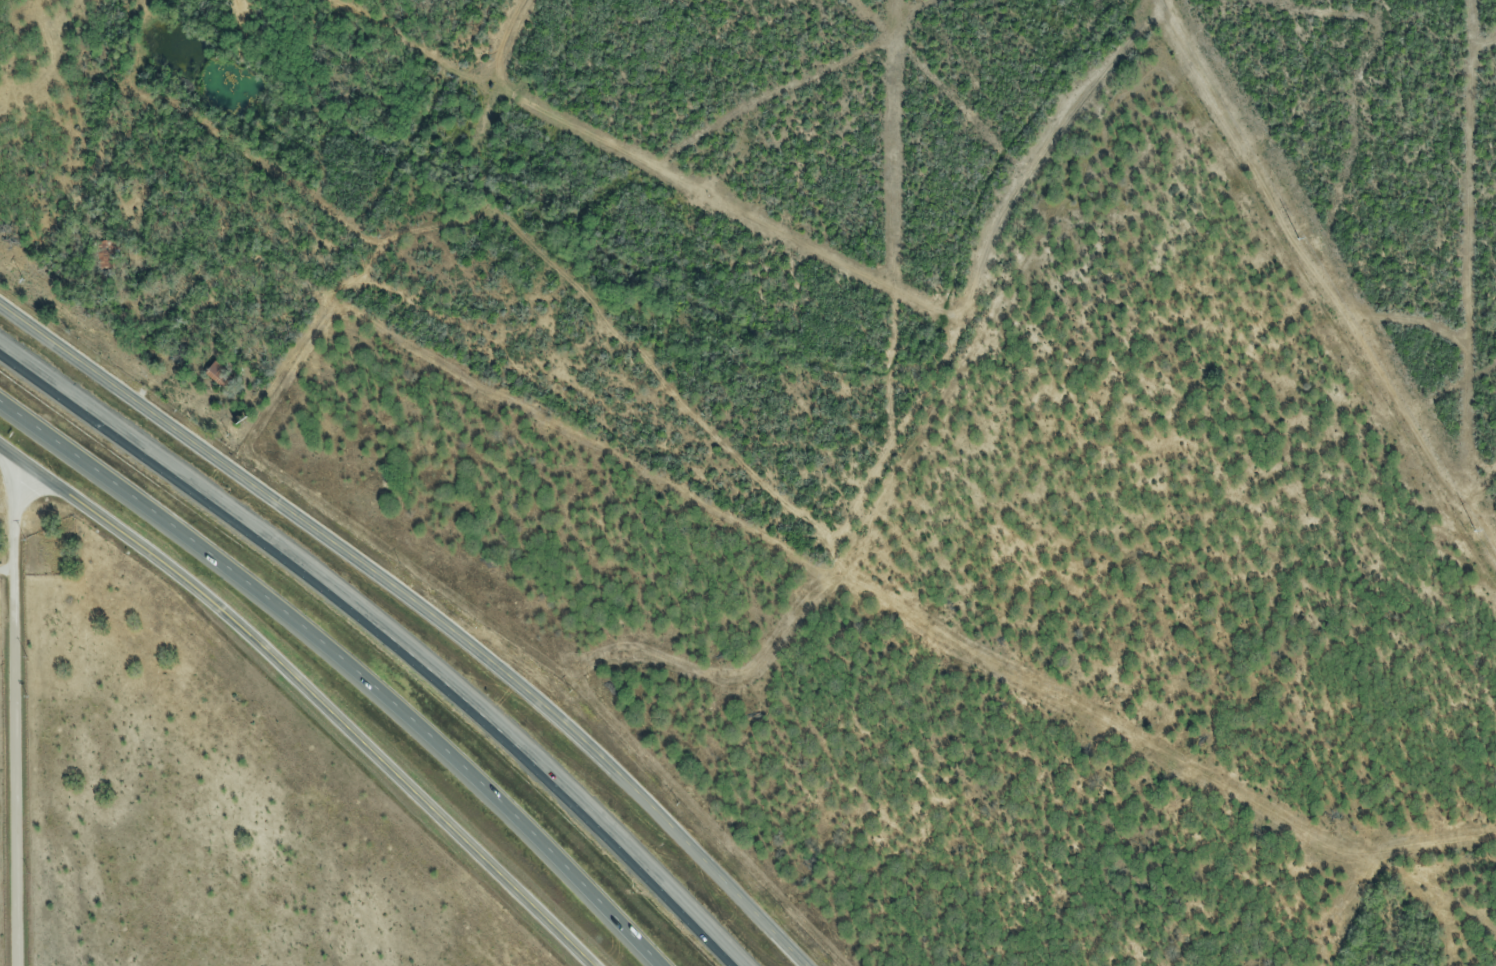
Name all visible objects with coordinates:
power tower: (1296, 235)
power tower: (1471, 528)
road: (6, 572)
road: (425, 612)
road: (385, 637)
road: (343, 671)
road: (303, 691)
road: (17, 712)

